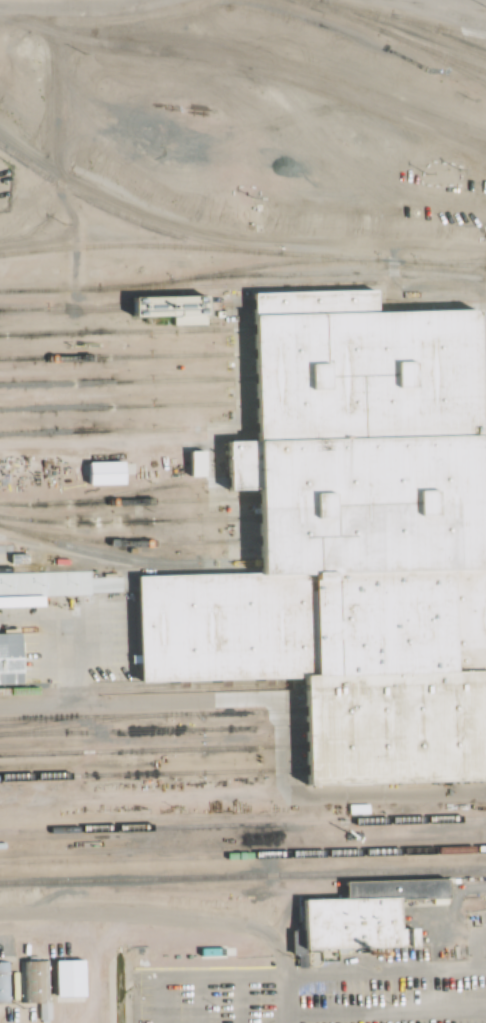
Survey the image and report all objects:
road: (71, 6)
road: (449, 12)
railway: (400, 16)
railway: (403, 27)
railway: (434, 28)
railway: (391, 36)
railway: (435, 53)
building: (270, 99)
building: (415, 177)
railway: (132, 219)
railway: (242, 251)
railway: (459, 262)
railway: (338, 273)
railway: (189, 278)
railway: (237, 285)
railway: (429, 300)
building: (312, 302)
railway: (228, 305)
railway: (64, 308)
building: (170, 309)
railway: (480, 323)
railway: (125, 331)
railway: (480, 347)
railway: (126, 358)
railway: (480, 371)
building: (364, 375)
railway: (126, 382)
railway: (481, 396)
railway: (127, 406)
railway: (481, 423)
railway: (126, 431)
building: (100, 473)
railway: (481, 474)
railway: (482, 492)
railway: (129, 493)
railway: (142, 502)
building: (361, 504)
railway: (14, 505)
railway: (482, 513)
railway: (128, 522)
railway: (482, 535)
railway: (127, 543)
railway: (482, 557)
building: (13, 558)
railway: (127, 558)
railway: (20, 569)
railway: (25, 602)
building: (308, 625)
building: (8, 659)
railway: (138, 689)
road: (143, 702)
railway: (484, 707)
railway: (149, 716)
railway: (484, 722)
railway: (85, 723)
building: (390, 727)
railway: (149, 731)
railway: (484, 741)
railway: (149, 750)
railway: (484, 764)
railway: (150, 774)
railway: (243, 826)
railway: (242, 856)
railway: (243, 877)
building: (393, 890)
railway: (214, 892)
road: (149, 914)
building: (409, 917)
building: (351, 925)
building: (5, 953)
building: (4, 982)
building: (33, 982)
road: (289, 988)
building: (43, 1012)

